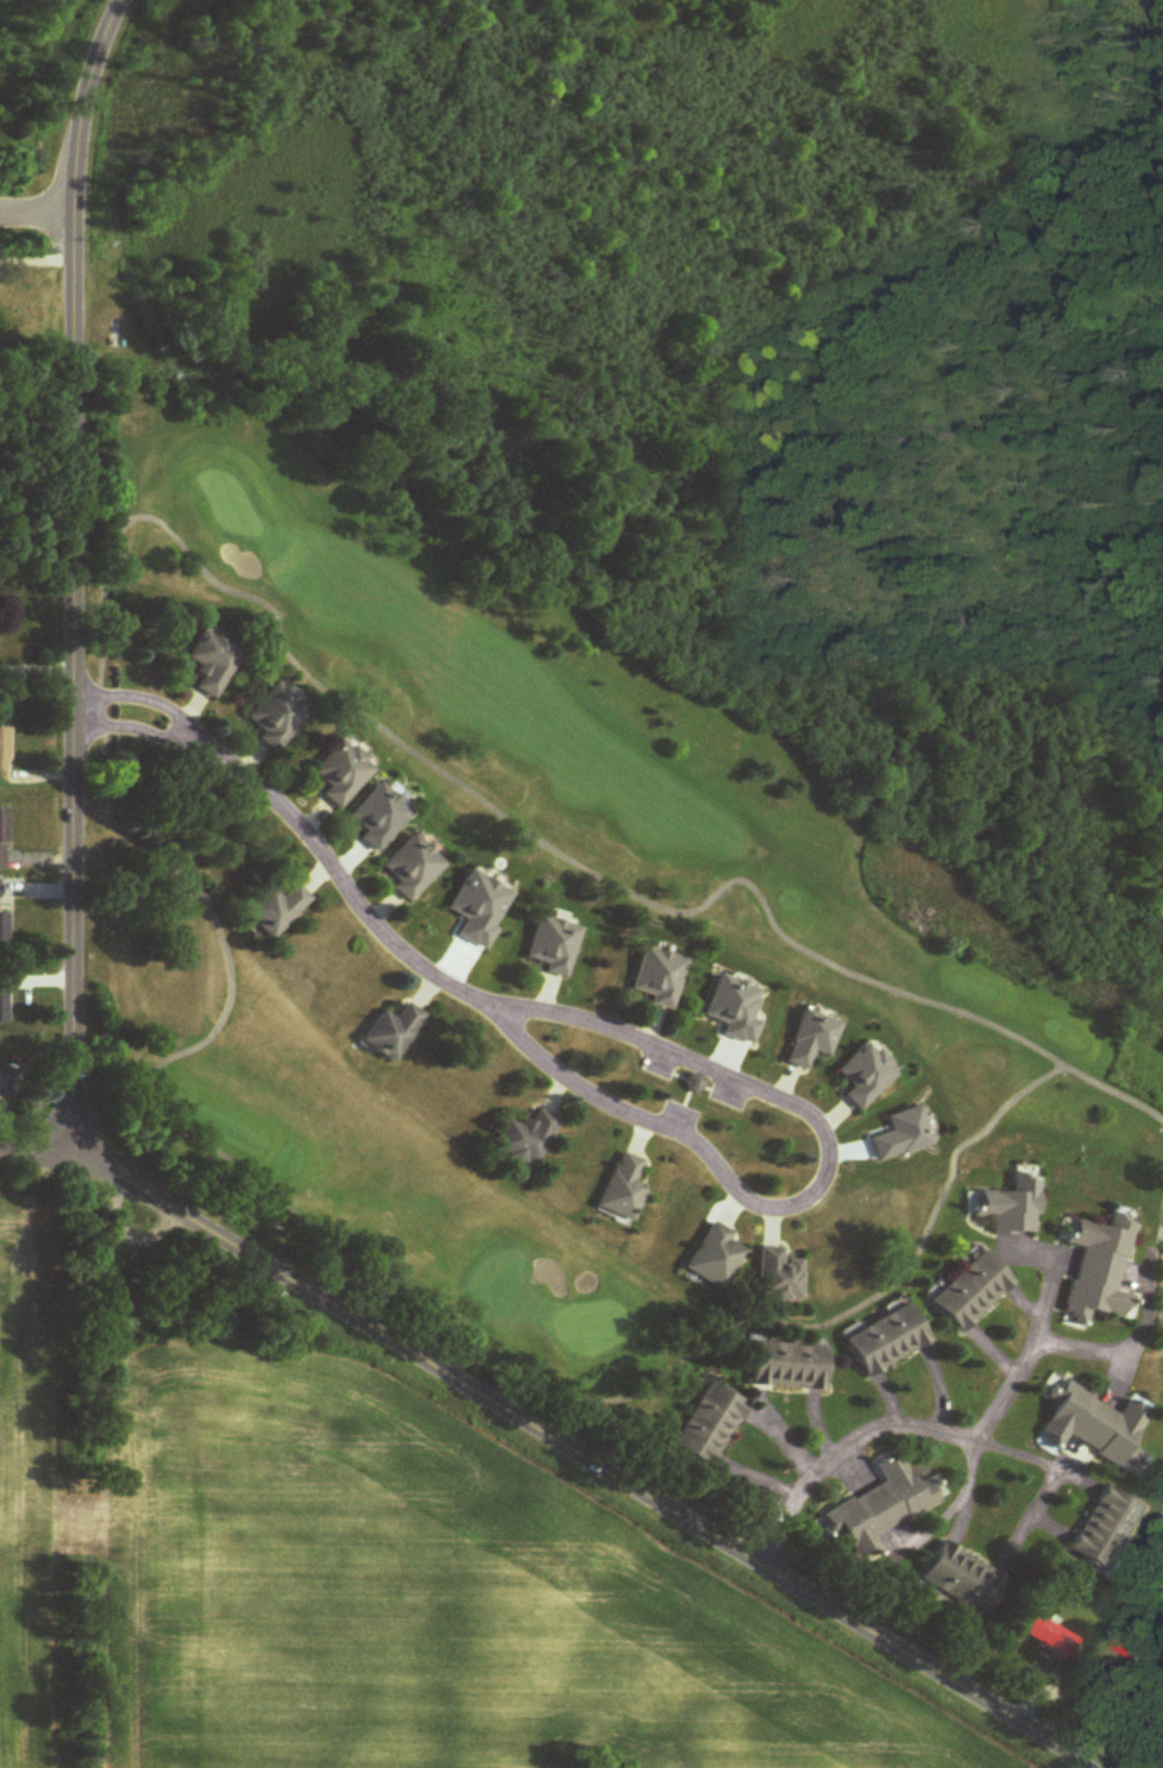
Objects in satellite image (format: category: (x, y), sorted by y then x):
road: (40, 208)
road: (39, 256)
road: (75, 573)
building: (212, 663)
building: (276, 719)
building: (4, 755)
building: (340, 775)
building: (378, 818)
building: (4, 839)
building: (411, 869)
building: (277, 911)
park: (558, 926)
building: (4, 930)
building: (552, 946)
building: (658, 979)
building: (4, 1007)
building: (394, 1033)
building: (811, 1040)
building: (865, 1077)
building: (5, 1093)
road: (598, 1101)
building: (526, 1141)
road: (34, 1156)
building: (622, 1190)
building: (1012, 1207)
building: (713, 1257)
building: (1099, 1270)
building: (779, 1276)
building: (973, 1291)
building: (887, 1340)
road: (1092, 1347)
road: (1017, 1352)
building: (790, 1365)
building: (709, 1423)
road: (886, 1423)
building: (1093, 1426)
road: (583, 1458)
crop: (17, 1479)
road: (957, 1484)
building: (880, 1506)
building: (1107, 1529)
building: (963, 1579)
building: (1052, 1636)
building: (1134, 1644)

